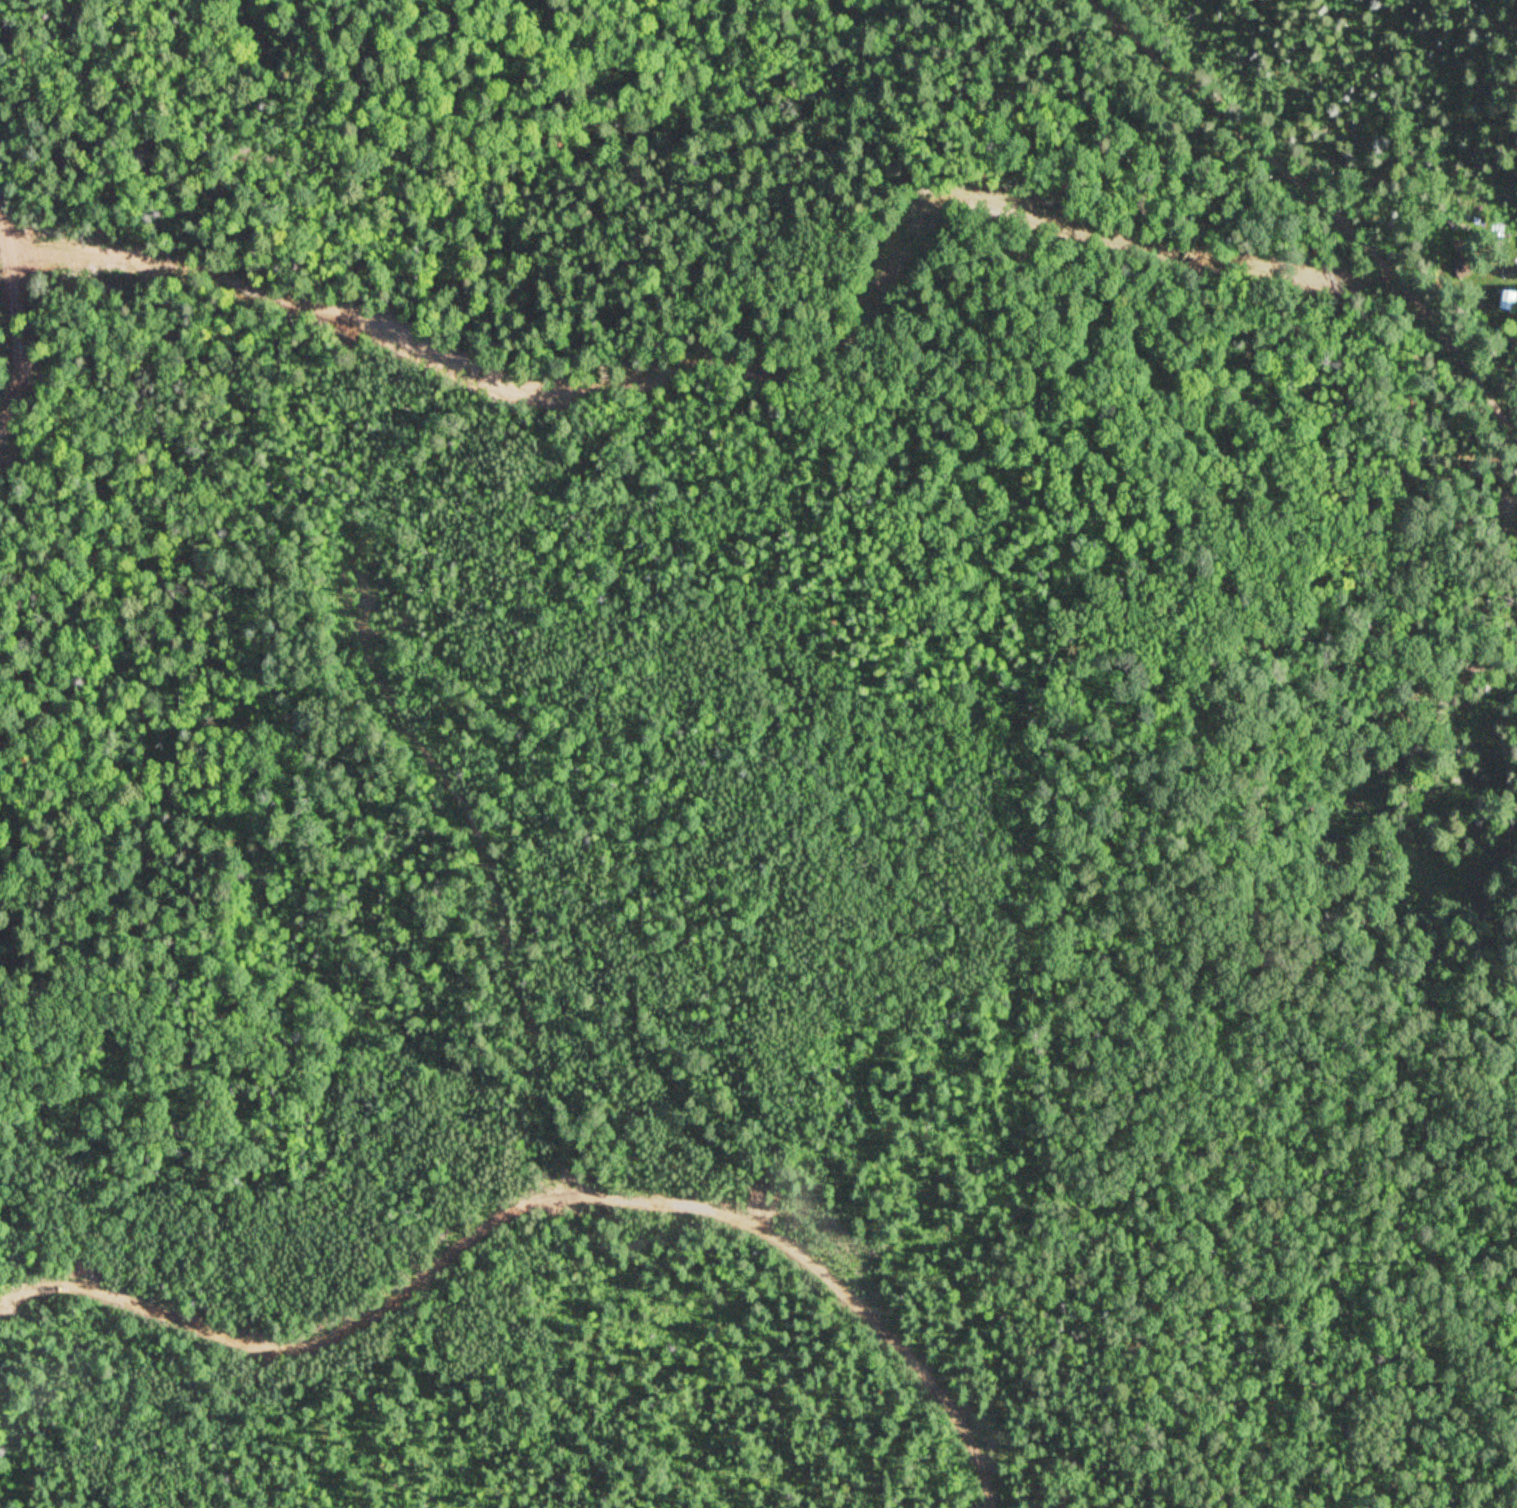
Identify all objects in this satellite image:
road: (1327, 177)
road: (412, 635)

